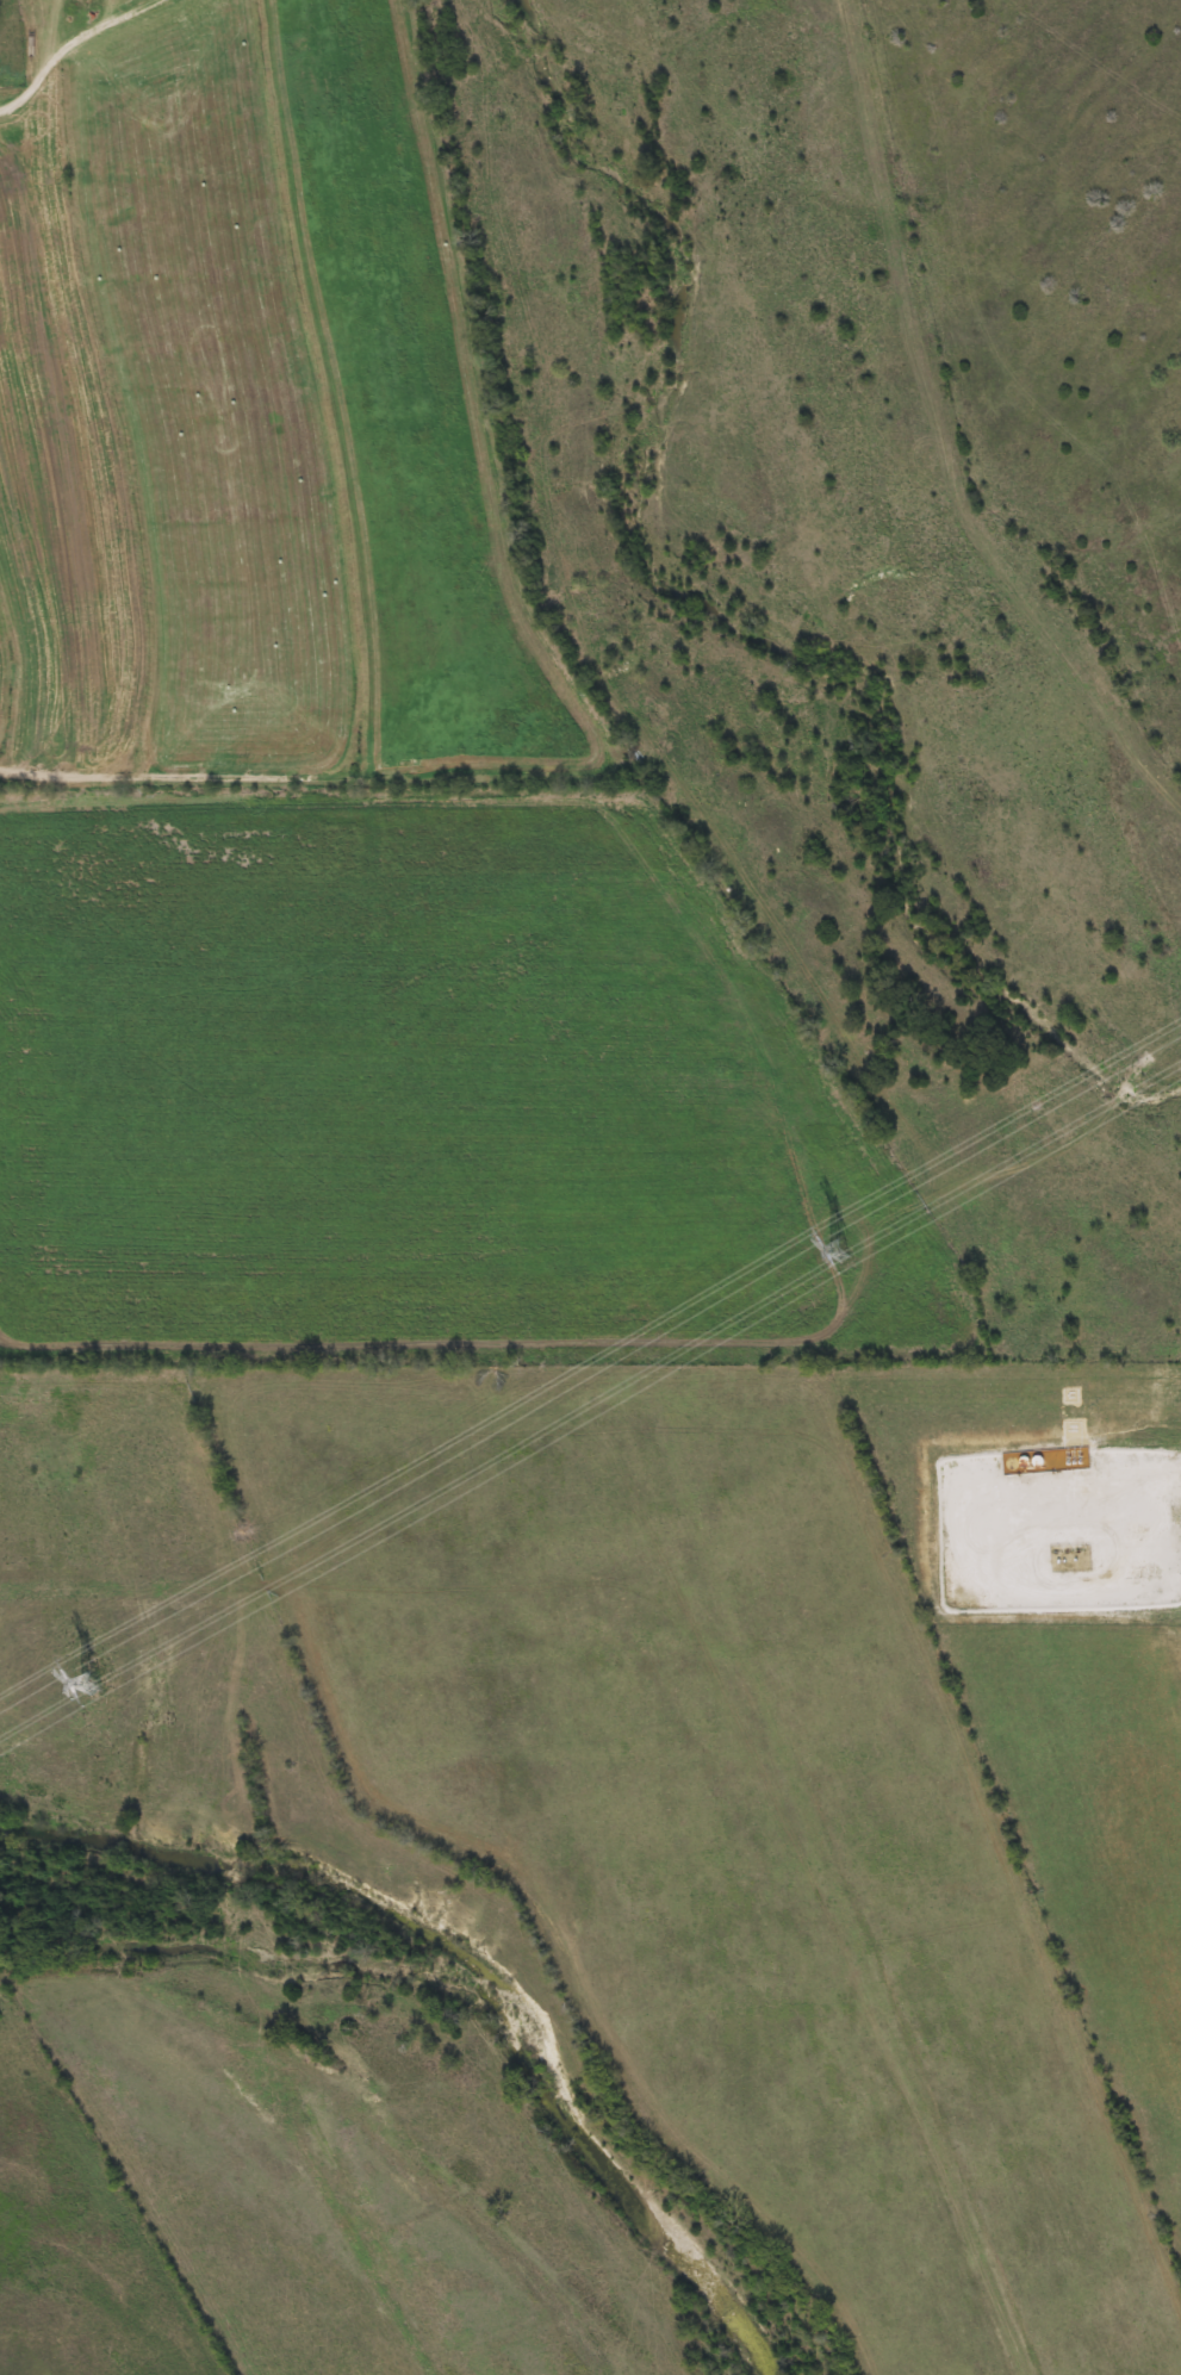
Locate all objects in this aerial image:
power tower: (843, 1249)
power tower: (99, 1683)

